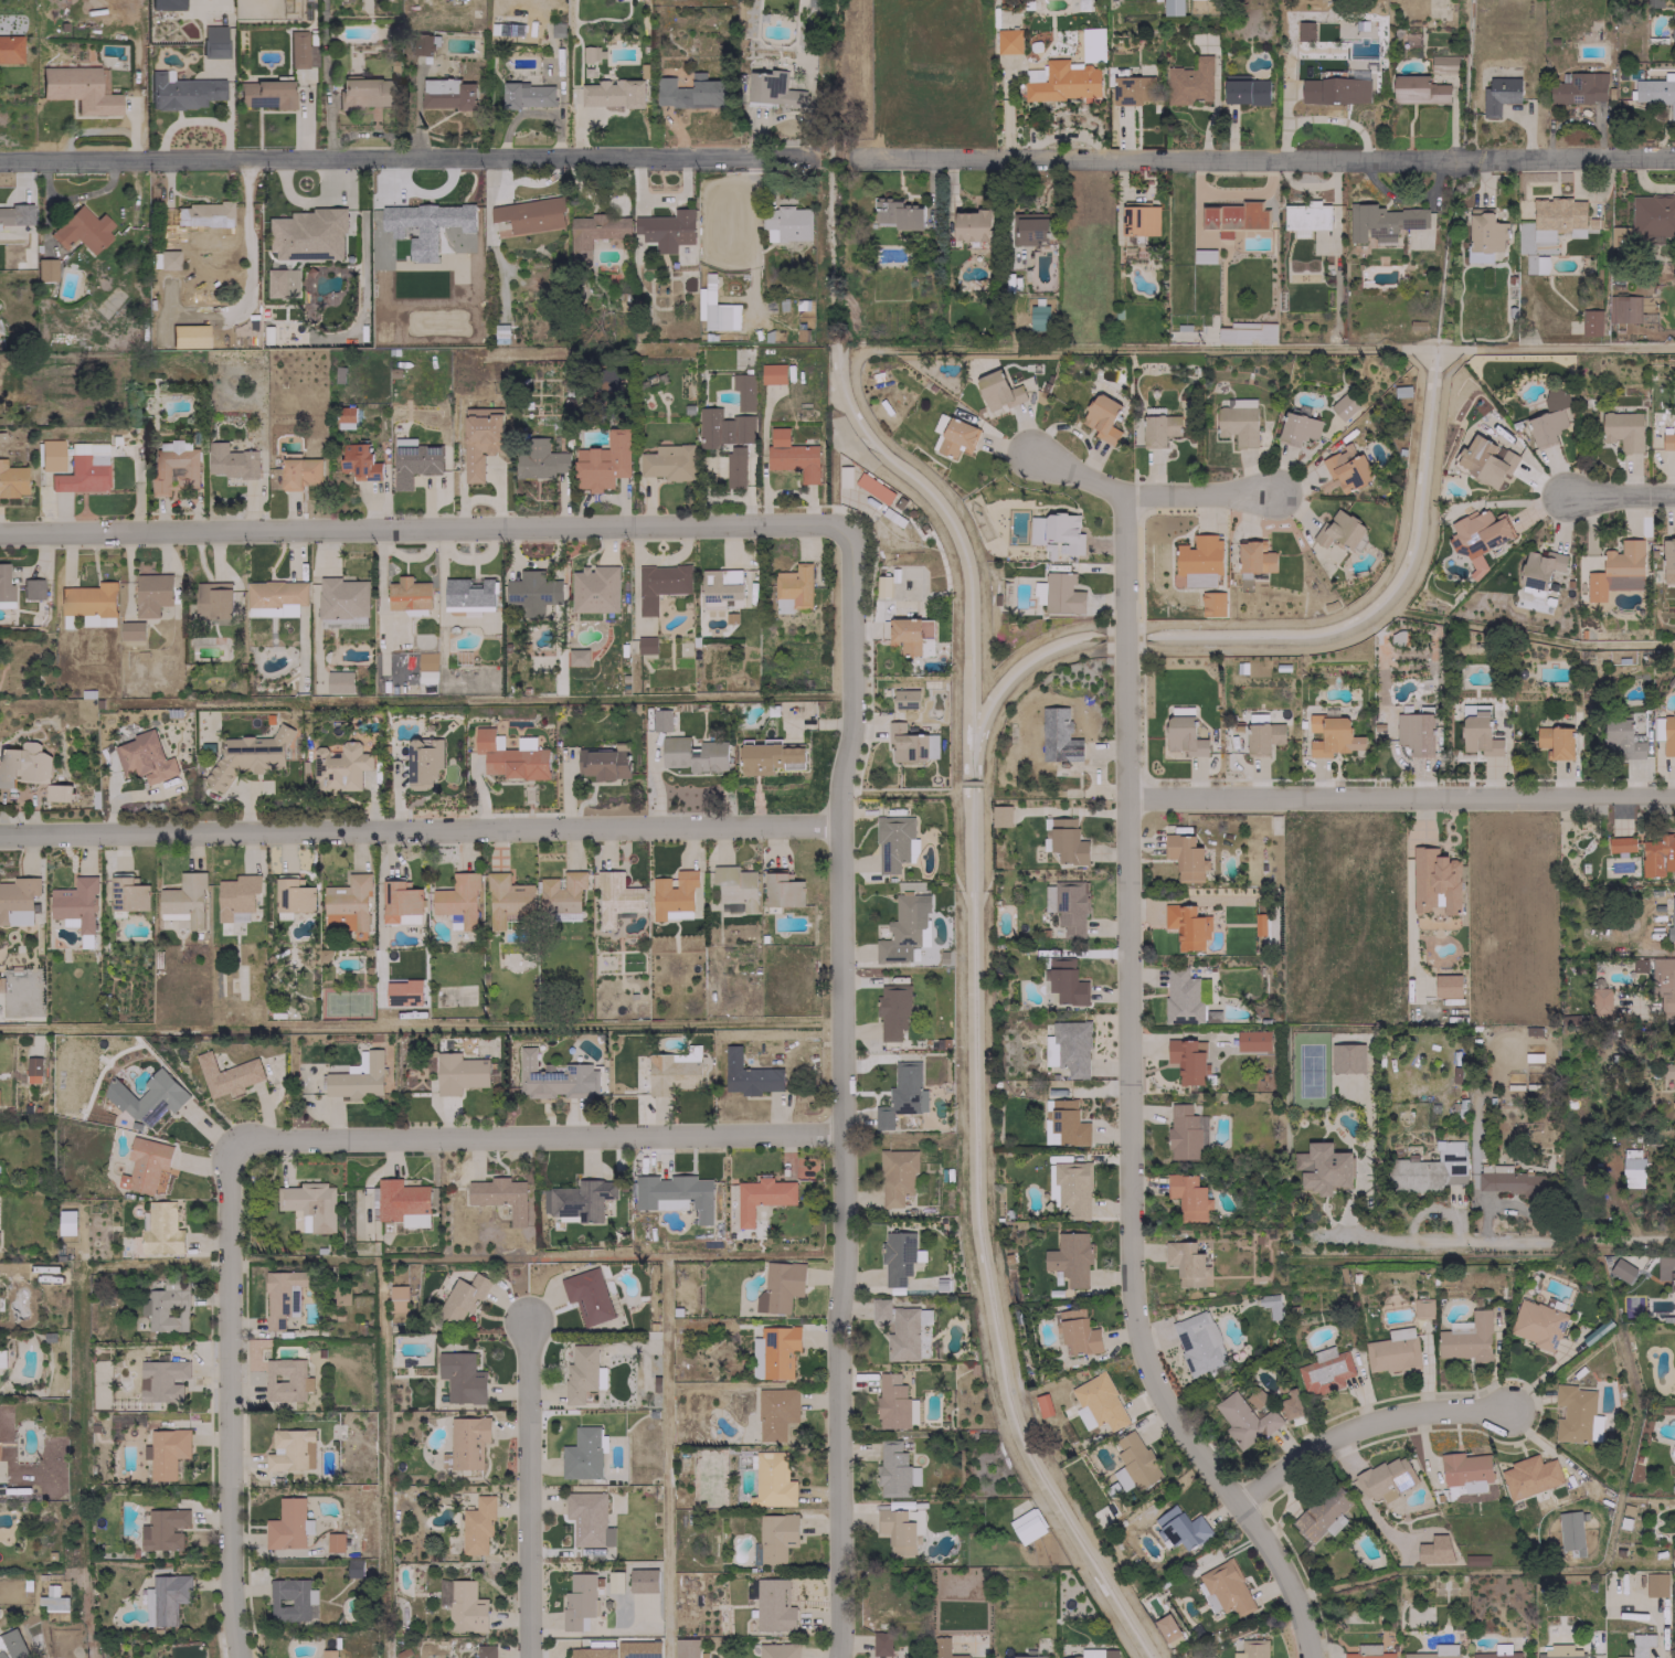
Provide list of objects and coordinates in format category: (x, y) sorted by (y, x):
building: (1114, 0)
building: (1653, 3)
building: (166, 4)
building: (1172, 7)
building: (1672, 26)
building: (213, 41)
building: (1008, 41)
building: (422, 44)
building: (10, 49)
building: (300, 50)
building: (592, 53)
building: (1442, 63)
building: (1189, 82)
building: (1063, 83)
building: (79, 88)
building: (1579, 88)
building: (772, 89)
building: (1132, 89)
building: (1244, 89)
building: (1334, 89)
building: (1418, 89)
building: (182, 91)
building: (365, 92)
building: (691, 92)
building: (612, 93)
building: (1655, 93)
building: (264, 94)
building: (447, 94)
building: (1498, 94)
building: (526, 95)
road: (1260, 158)
road: (409, 159)
building: (897, 213)
building: (15, 214)
building: (530, 214)
building: (202, 215)
building: (427, 216)
building: (1234, 216)
building: (1305, 217)
building: (1558, 217)
building: (1139, 219)
building: (1650, 219)
building: (1381, 221)
building: (785, 223)
building: (972, 225)
building: (1030, 228)
building: (82, 230)
building: (666, 230)
building: (595, 231)
building: (1485, 231)
building: (307, 234)
building: (1204, 255)
building: (168, 258)
building: (45, 268)
building: (282, 283)
building: (715, 308)
building: (1623, 308)
building: (1038, 318)
building: (1591, 321)
building: (772, 373)
building: (997, 390)
building: (742, 391)
building: (1343, 406)
building: (346, 416)
building: (1101, 417)
building: (1238, 422)
building: (940, 423)
building: (1546, 426)
building: (722, 427)
building: (1297, 428)
building: (1159, 429)
building: (1621, 429)
building: (956, 437)
building: (1668, 437)
building: (479, 439)
building: (51, 454)
building: (792, 455)
building: (230, 460)
building: (540, 460)
building: (1485, 460)
building: (359, 461)
building: (603, 461)
building: (668, 461)
building: (413, 463)
building: (735, 467)
building: (1346, 468)
building: (173, 469)
building: (298, 470)
building: (82, 474)
building: (11, 480)
building: (873, 488)
road: (1148, 492)
road: (1622, 492)
road: (426, 527)
building: (1053, 528)
building: (1481, 528)
building: (1338, 530)
building: (1254, 557)
building: (1199, 560)
building: (1668, 560)
building: (1538, 570)
building: (1616, 571)
building: (660, 584)
building: (882, 585)
building: (4, 587)
building: (31, 588)
building: (594, 588)
building: (721, 588)
building: (793, 588)
building: (532, 592)
building: (1039, 592)
building: (151, 593)
building: (409, 594)
building: (1062, 594)
building: (277, 595)
building: (468, 596)
building: (212, 599)
building: (342, 602)
building: (1212, 604)
building: (131, 630)
building: (911, 635)
building: (645, 645)
building: (577, 657)
building: (426, 660)
building: (339, 681)
building: (660, 720)
building: (1477, 730)
building: (1414, 732)
building: (1665, 733)
building: (1184, 735)
building: (1332, 735)
building: (1058, 736)
building: (1262, 737)
building: (1621, 738)
building: (1555, 741)
building: (910, 744)
building: (693, 754)
building: (247, 756)
building: (510, 756)
building: (768, 756)
building: (144, 757)
building: (423, 761)
building: (604, 762)
building: (24, 763)
building: (340, 766)
building: (57, 793)
road: (1401, 796)
building: (1000, 815)
road: (421, 829)
building: (1067, 841)
building: (894, 842)
building: (1620, 843)
building: (1657, 855)
building: (1185, 857)
building: (1434, 881)
building: (734, 888)
building: (782, 890)
building: (561, 893)
building: (127, 895)
building: (672, 895)
building: (293, 896)
building: (236, 897)
building: (615, 897)
building: (1048, 897)
building: (457, 899)
building: (17, 900)
building: (183, 900)
building: (399, 900)
building: (507, 900)
building: (75, 903)
building: (347, 903)
building: (1070, 906)
building: (1671, 921)
building: (1186, 926)
building: (904, 928)
building: (1064, 981)
building: (1664, 984)
building: (1446, 986)
building: (403, 992)
building: (1185, 999)
building: (1600, 1001)
building: (892, 1010)
building: (1252, 1040)
building: (1068, 1048)
building: (1346, 1057)
building: (1187, 1060)
building: (33, 1069)
building: (672, 1071)
building: (459, 1073)
building: (226, 1075)
building: (748, 1075)
building: (553, 1077)
building: (358, 1078)
road: (841, 1088)
building: (901, 1095)
building: (1673, 1096)
building: (148, 1097)
road: (1131, 1099)
building: (1067, 1123)
building: (1185, 1131)
road: (536, 1135)
building: (145, 1165)
building: (1632, 1167)
building: (1323, 1168)
building: (1430, 1169)
building: (895, 1176)
building: (1510, 1180)
building: (1072, 1187)
building: (675, 1194)
building: (500, 1195)
building: (1187, 1195)
building: (761, 1197)
building: (577, 1199)
building: (402, 1202)
building: (309, 1204)
building: (66, 1222)
building: (161, 1230)
road: (1491, 1240)
building: (899, 1257)
building: (1070, 1257)
building: (1184, 1262)
building: (1621, 1269)
building: (1666, 1269)
building: (778, 1287)
building: (340, 1294)
building: (282, 1296)
building: (587, 1296)
building: (462, 1297)
building: (397, 1298)
building: (1271, 1305)
building: (167, 1307)
building: (1422, 1308)
building: (1536, 1324)
building: (900, 1327)
building: (1078, 1333)
building: (1466, 1338)
building: (1198, 1342)
building: (774, 1351)
building: (1392, 1351)
building: (2, 1359)
building: (1674, 1365)
building: (1324, 1371)
building: (582, 1373)
building: (460, 1378)
building: (648, 1378)
building: (161, 1380)
building: (285, 1380)
road: (232, 1397)
building: (1098, 1402)
building: (894, 1403)
building: (1290, 1403)
building: (1042, 1404)
building: (775, 1412)
building: (1576, 1414)
building: (1243, 1420)
road: (1363, 1426)
building: (467, 1441)
building: (291, 1449)
building: (167, 1452)
building: (583, 1453)
building: (1134, 1463)
building: (894, 1470)
building: (1464, 1470)
building: (1674, 1474)
building: (1529, 1476)
building: (1385, 1478)
building: (772, 1479)
road: (528, 1490)
building: (1674, 1507)
building: (1323, 1513)
building: (587, 1519)
building: (287, 1524)
building: (477, 1526)
building: (1026, 1526)
building: (1181, 1528)
building: (162, 1529)
building: (897, 1531)
building: (1570, 1532)
building: (775, 1537)
building: (335, 1542)
building: (1434, 1549)
building: (1475, 1560)
building: (354, 1567)
building: (642, 1580)
building: (1655, 1584)
building: (1227, 1587)
building: (52, 1598)
building: (165, 1598)
building: (1208, 1598)
building: (291, 1599)
building: (577, 1601)
building: (773, 1605)
building: (466, 1606)
building: (1166, 1627)
building: (880, 1644)
building: (1641, 1644)
building: (11, 1645)
building: (686, 1648)
building: (943, 1649)
building: (1251, 1649)
building: (484, 1650)
building: (619, 1650)
building: (778, 1650)
building: (1368, 1651)
building: (1435, 1651)
building: (1560, 1651)
building: (327, 1652)
building: (1497, 1652)
building: (1094, 1654)
building: (1027, 1655)
building: (983, 1657)

